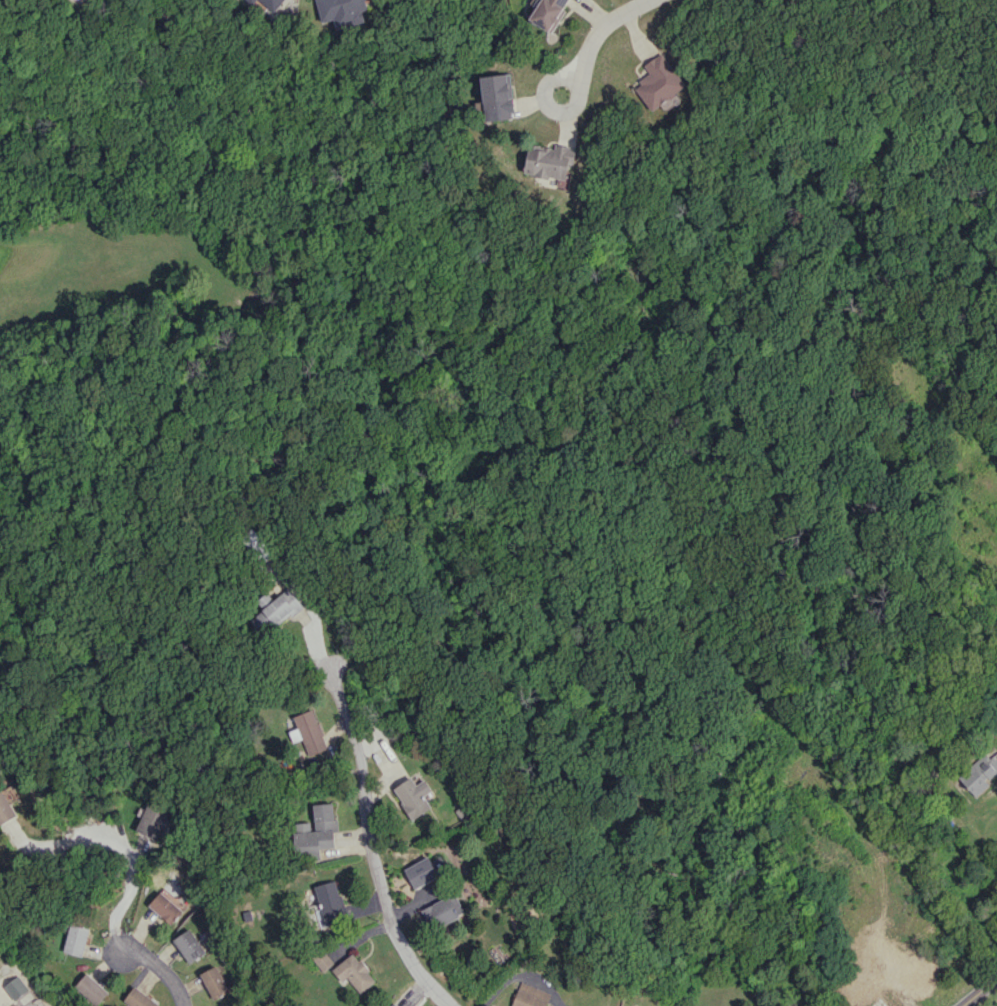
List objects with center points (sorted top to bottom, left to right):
building: (253, 1)
building: (272, 3)
building: (342, 11)
building: (548, 13)
road: (602, 38)
building: (659, 81)
building: (496, 97)
building: (549, 161)
building: (254, 538)
building: (275, 612)
building: (309, 731)
building: (979, 773)
building: (413, 796)
building: (5, 808)
building: (150, 821)
building: (315, 831)
road: (369, 845)
road: (124, 848)
building: (421, 872)
building: (329, 902)
building: (166, 905)
building: (442, 911)
building: (75, 939)
building: (188, 945)
building: (321, 959)
building: (914, 969)
road: (157, 970)
building: (353, 973)
building: (213, 982)
building: (15, 987)
building: (90, 988)
road: (979, 991)
building: (530, 996)
building: (137, 998)
building: (878, 1002)
building: (394, 1004)

